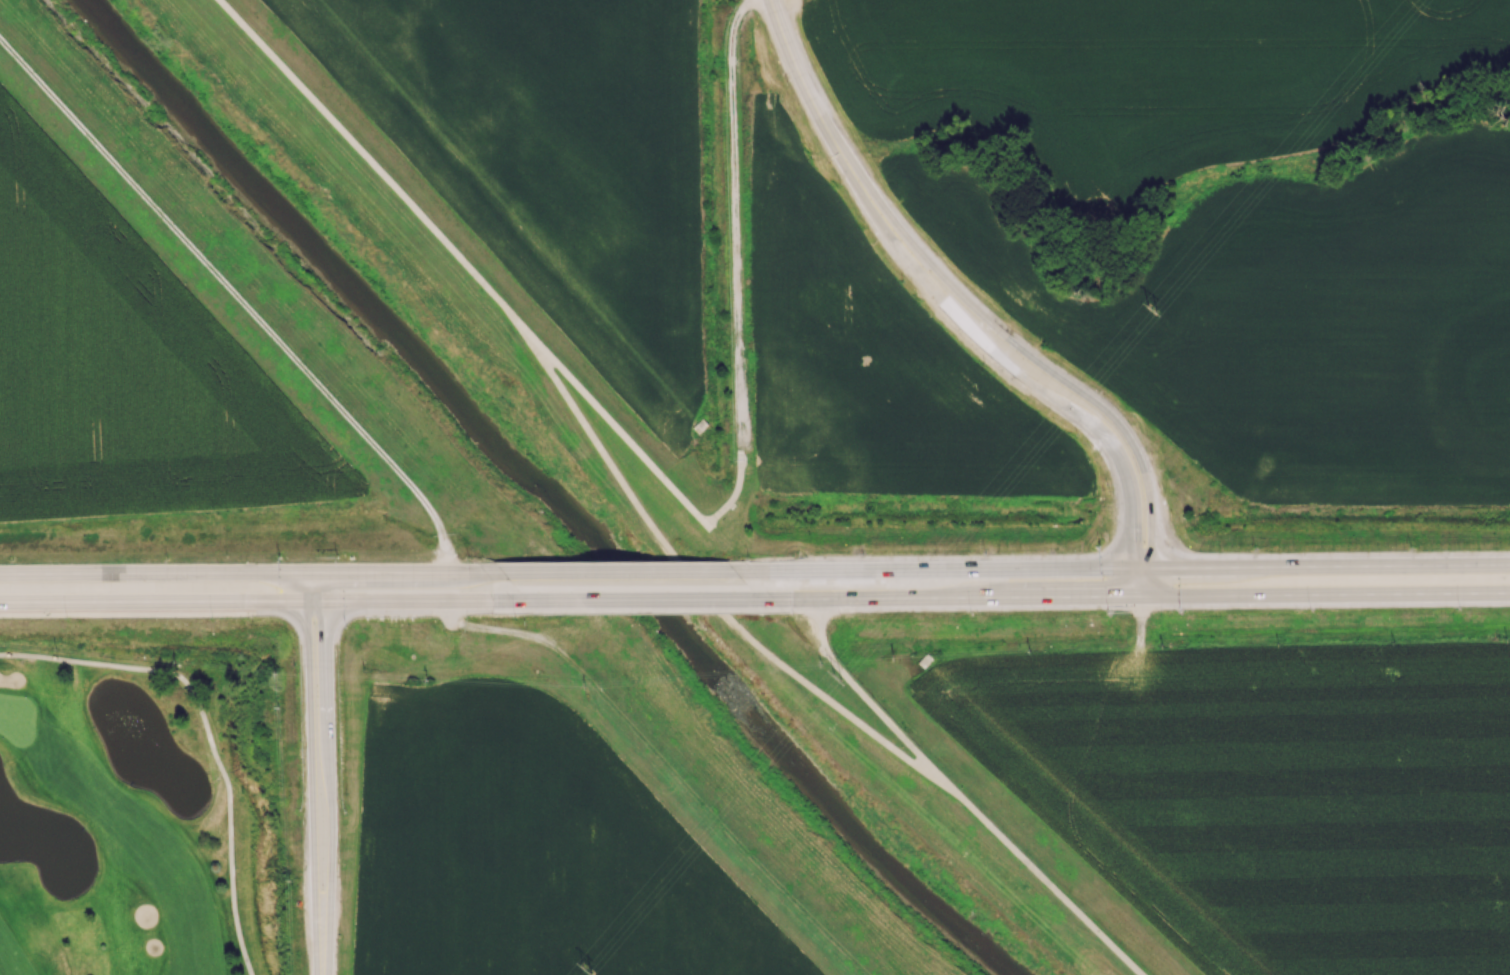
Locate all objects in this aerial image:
road: (815, 108)
road: (374, 166)
road: (734, 217)
power tower: (1156, 313)
crop: (868, 361)
road: (1062, 379)
road: (1040, 391)
road: (647, 459)
river: (543, 497)
road: (1331, 566)
traffic signals: (1133, 567)
traffic signals: (1153, 567)
road: (947, 569)
road: (617, 571)
road: (246, 572)
traffic signals: (318, 572)
road: (1326, 593)
traffic signals: (1144, 596)
road: (954, 597)
road: (709, 599)
road: (641, 600)
road: (258, 602)
traffic signals: (307, 602)
traffic signals: (325, 602)
road: (301, 612)
road: (139, 615)
power tower: (838, 681)
road: (875, 706)
road: (208, 734)
road: (665, 765)
road: (310, 772)
road: (330, 773)
crop: (1275, 793)
park: (147, 810)
crop: (536, 849)
road: (1052, 886)
power tower: (588, 963)

